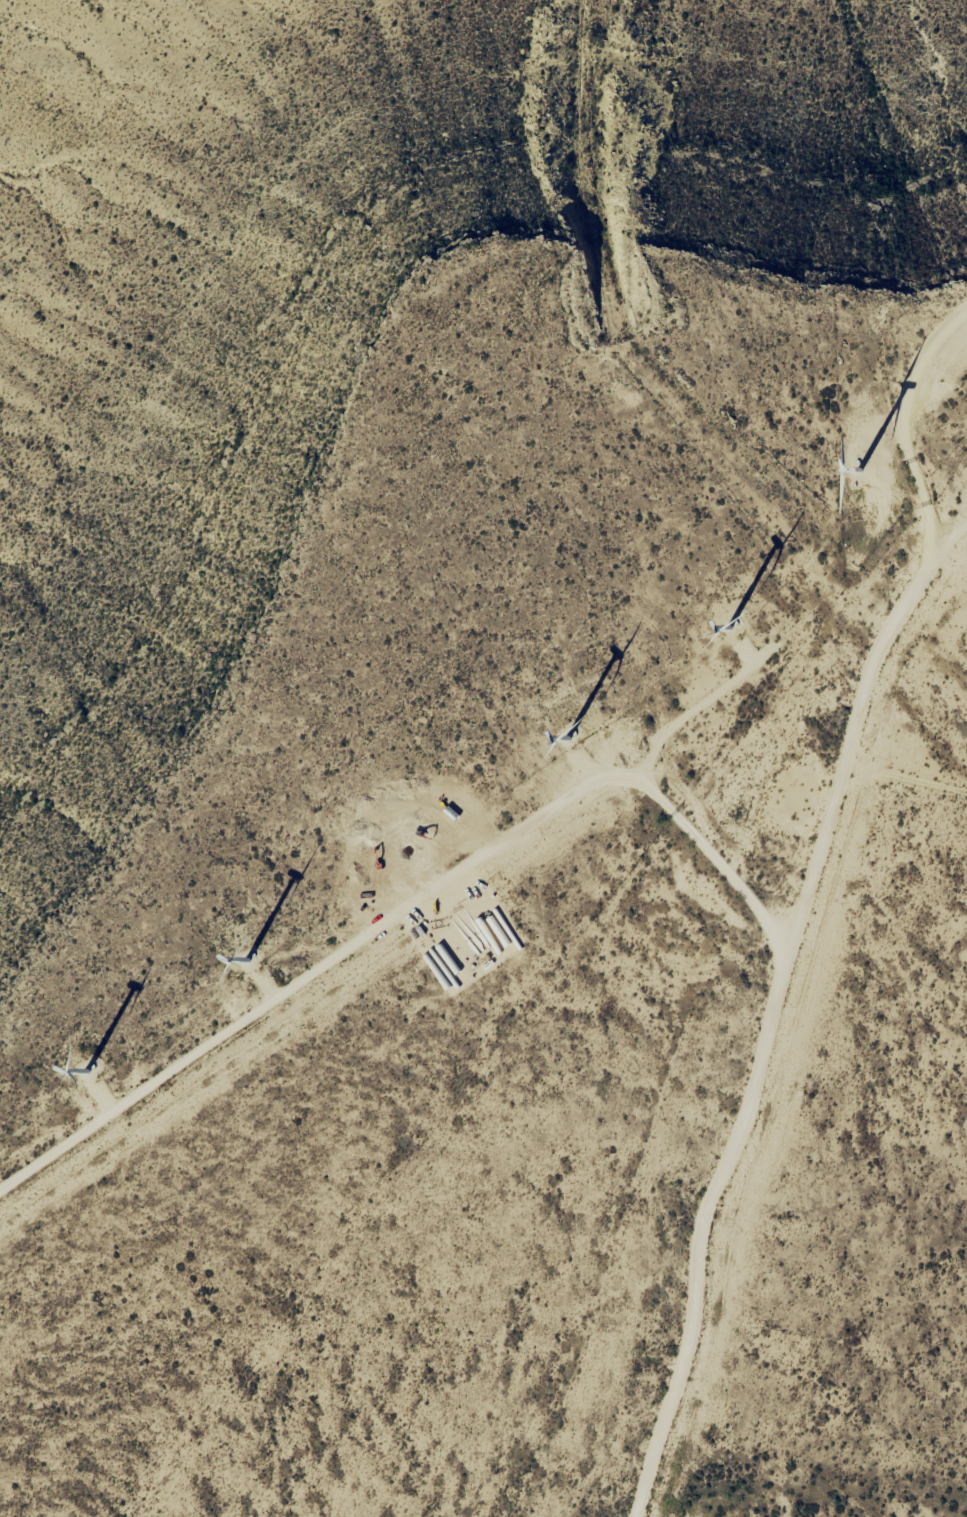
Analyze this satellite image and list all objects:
wind turbine: (843, 469)
wind turbine: (728, 620)
wind turbine: (561, 731)
road: (914, 779)
wind turbine: (411, 850)
road: (807, 926)
wind turbine: (245, 963)
wind turbine: (89, 1067)

